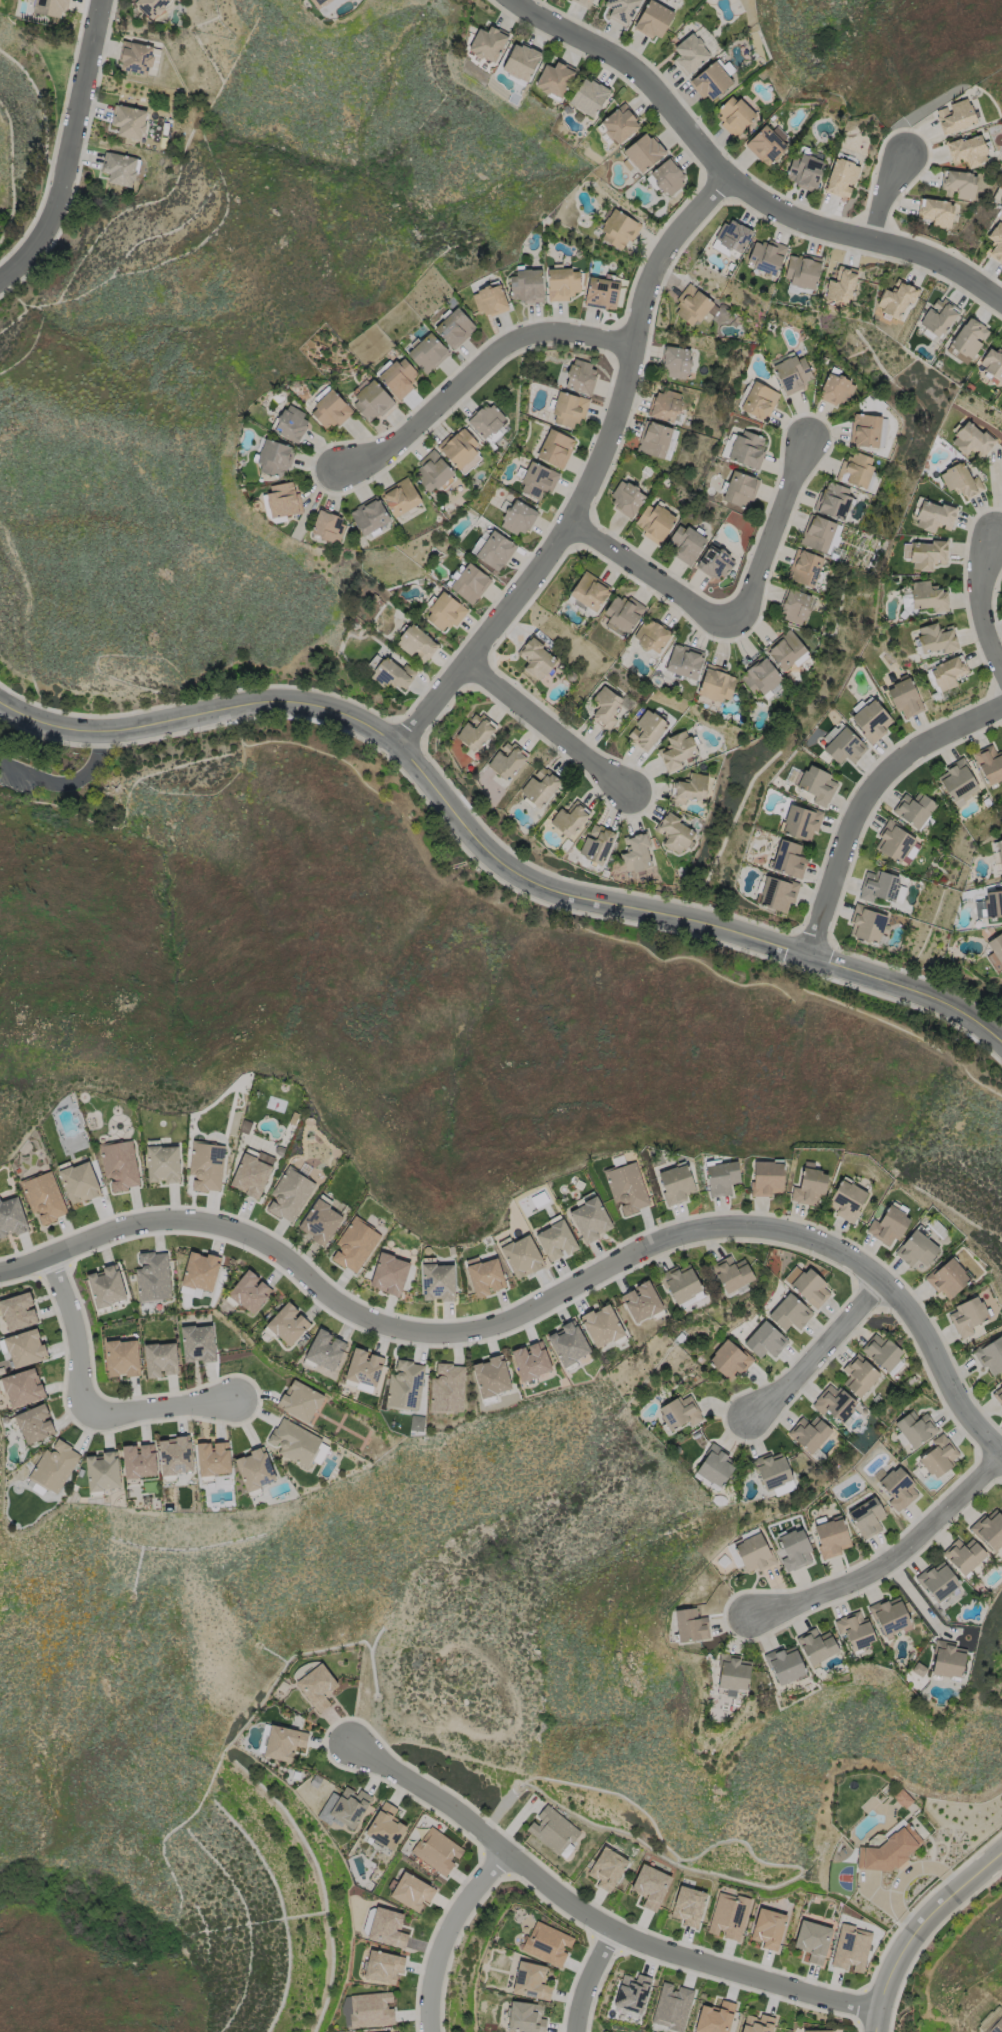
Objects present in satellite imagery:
building: (583, 2)
building: (320, 3)
building: (152, 6)
building: (51, 7)
building: (622, 10)
building: (654, 20)
building: (488, 43)
building: (691, 53)
building: (137, 57)
building: (521, 62)
building: (555, 79)
building: (712, 81)
building: (589, 96)
building: (735, 115)
building: (955, 115)
building: (129, 121)
building: (620, 123)
building: (766, 145)
road: (71, 150)
building: (967, 150)
building: (644, 152)
building: (120, 168)
building: (805, 171)
building: (668, 178)
building: (842, 179)
building: (959, 184)
road: (734, 185)
road: (885, 200)
building: (936, 212)
building: (618, 230)
building: (734, 237)
building: (996, 242)
building: (767, 254)
building: (802, 272)
building: (564, 284)
building: (527, 286)
building: (842, 286)
building: (603, 293)
building: (490, 300)
building: (897, 300)
building: (692, 305)
building: (939, 317)
building: (454, 329)
building: (969, 338)
building: (428, 354)
building: (676, 363)
building: (993, 363)
road: (477, 372)
building: (794, 374)
building: (580, 376)
building: (399, 379)
building: (836, 390)
building: (759, 401)
building: (371, 402)
building: (665, 406)
building: (330, 410)
building: (569, 411)
building: (487, 420)
building: (291, 423)
building: (868, 430)
building: (972, 439)
building: (654, 440)
building: (460, 448)
building: (556, 449)
building: (747, 449)
building: (273, 457)
building: (857, 469)
building: (432, 472)
road: (593, 477)
building: (961, 480)
building: (538, 481)
building: (740, 489)
building: (401, 498)
building: (626, 499)
building: (283, 500)
building: (834, 502)
building: (934, 516)
building: (370, 517)
building: (518, 519)
building: (657, 522)
building: (329, 527)
building: (818, 534)
building: (687, 543)
building: (494, 550)
building: (926, 555)
building: (716, 563)
building: (805, 569)
building: (470, 584)
building: (590, 591)
building: (929, 596)
building: (906, 601)
road: (981, 605)
building: (796, 607)
building: (446, 613)
building: (625, 613)
road: (734, 615)
building: (652, 635)
building: (935, 638)
building: (417, 644)
building: (787, 651)
building: (537, 658)
building: (684, 662)
building: (949, 672)
building: (393, 675)
building: (760, 676)
building: (717, 685)
building: (905, 698)
building: (607, 707)
building: (871, 719)
road: (550, 728)
building: (646, 730)
building: (476, 733)
building: (844, 746)
building: (678, 751)
building: (507, 761)
building: (990, 763)
road: (66, 780)
building: (958, 781)
building: (817, 785)
building: (539, 787)
building: (690, 789)
road: (867, 801)
building: (914, 809)
building: (571, 817)
building: (800, 823)
building: (675, 832)
building: (894, 842)
building: (597, 843)
road: (488, 848)
building: (637, 852)
building: (999, 854)
building: (789, 859)
building: (880, 887)
building: (777, 894)
building: (990, 905)
building: (867, 924)
building: (996, 947)
building: (162, 1163)
building: (119, 1164)
building: (206, 1166)
building: (252, 1172)
building: (722, 1177)
building: (768, 1178)
building: (79, 1182)
building: (675, 1184)
building: (810, 1185)
building: (625, 1187)
building: (289, 1194)
building: (43, 1196)
building: (847, 1200)
building: (11, 1217)
building: (588, 1219)
building: (319, 1220)
building: (890, 1225)
building: (552, 1240)
building: (354, 1245)
building: (919, 1251)
building: (521, 1256)
building: (200, 1271)
building: (389, 1274)
building: (732, 1274)
building: (152, 1276)
building: (485, 1277)
building: (949, 1279)
building: (436, 1280)
building: (679, 1283)
building: (105, 1286)
building: (812, 1288)
building: (249, 1291)
road: (538, 1297)
building: (639, 1303)
building: (17, 1310)
building: (790, 1313)
building: (969, 1317)
building: (287, 1324)
building: (599, 1326)
building: (765, 1340)
building: (197, 1343)
building: (566, 1346)
building: (24, 1347)
building: (324, 1349)
road: (819, 1349)
building: (882, 1354)
building: (122, 1357)
building: (991, 1357)
building: (160, 1359)
building: (530, 1360)
building: (727, 1363)
building: (363, 1369)
building: (491, 1376)
building: (860, 1377)
building: (405, 1385)
building: (22, 1387)
building: (447, 1388)
building: (999, 1396)
building: (299, 1401)
building: (835, 1403)
road: (88, 1404)
building: (678, 1413)
building: (416, 1422)
building: (34, 1423)
building: (916, 1428)
building: (809, 1435)
building: (294, 1442)
building: (175, 1455)
building: (213, 1458)
building: (939, 1458)
building: (138, 1460)
building: (54, 1466)
building: (714, 1468)
building: (254, 1469)
building: (102, 1471)
building: (771, 1472)
building: (898, 1491)
building: (865, 1519)
building: (991, 1530)
building: (830, 1539)
building: (792, 1551)
building: (964, 1555)
building: (752, 1556)
road: (892, 1557)
building: (939, 1582)
building: (890, 1619)
building: (688, 1628)
building: (854, 1633)
building: (815, 1647)
building: (947, 1662)
building: (784, 1667)
building: (919, 1671)
building: (731, 1676)
building: (316, 1686)
building: (283, 1742)
building: (347, 1806)
building: (385, 1826)
building: (552, 1829)
building: (888, 1850)
building: (437, 1851)
building: (605, 1867)
building: (650, 1886)
building: (411, 1891)
building: (688, 1905)
road: (587, 1911)
building: (728, 1915)
building: (387, 1928)
building: (767, 1928)
road: (917, 1929)
road: (448, 1934)
building: (812, 1940)
building: (547, 1943)
building: (851, 1948)
building: (382, 1966)
road: (589, 1978)
building: (530, 1981)
building: (632, 1992)
building: (671, 2006)
building: (371, 2009)
building: (525, 2017)
building: (714, 2017)
building: (992, 2021)
building: (756, 2023)

